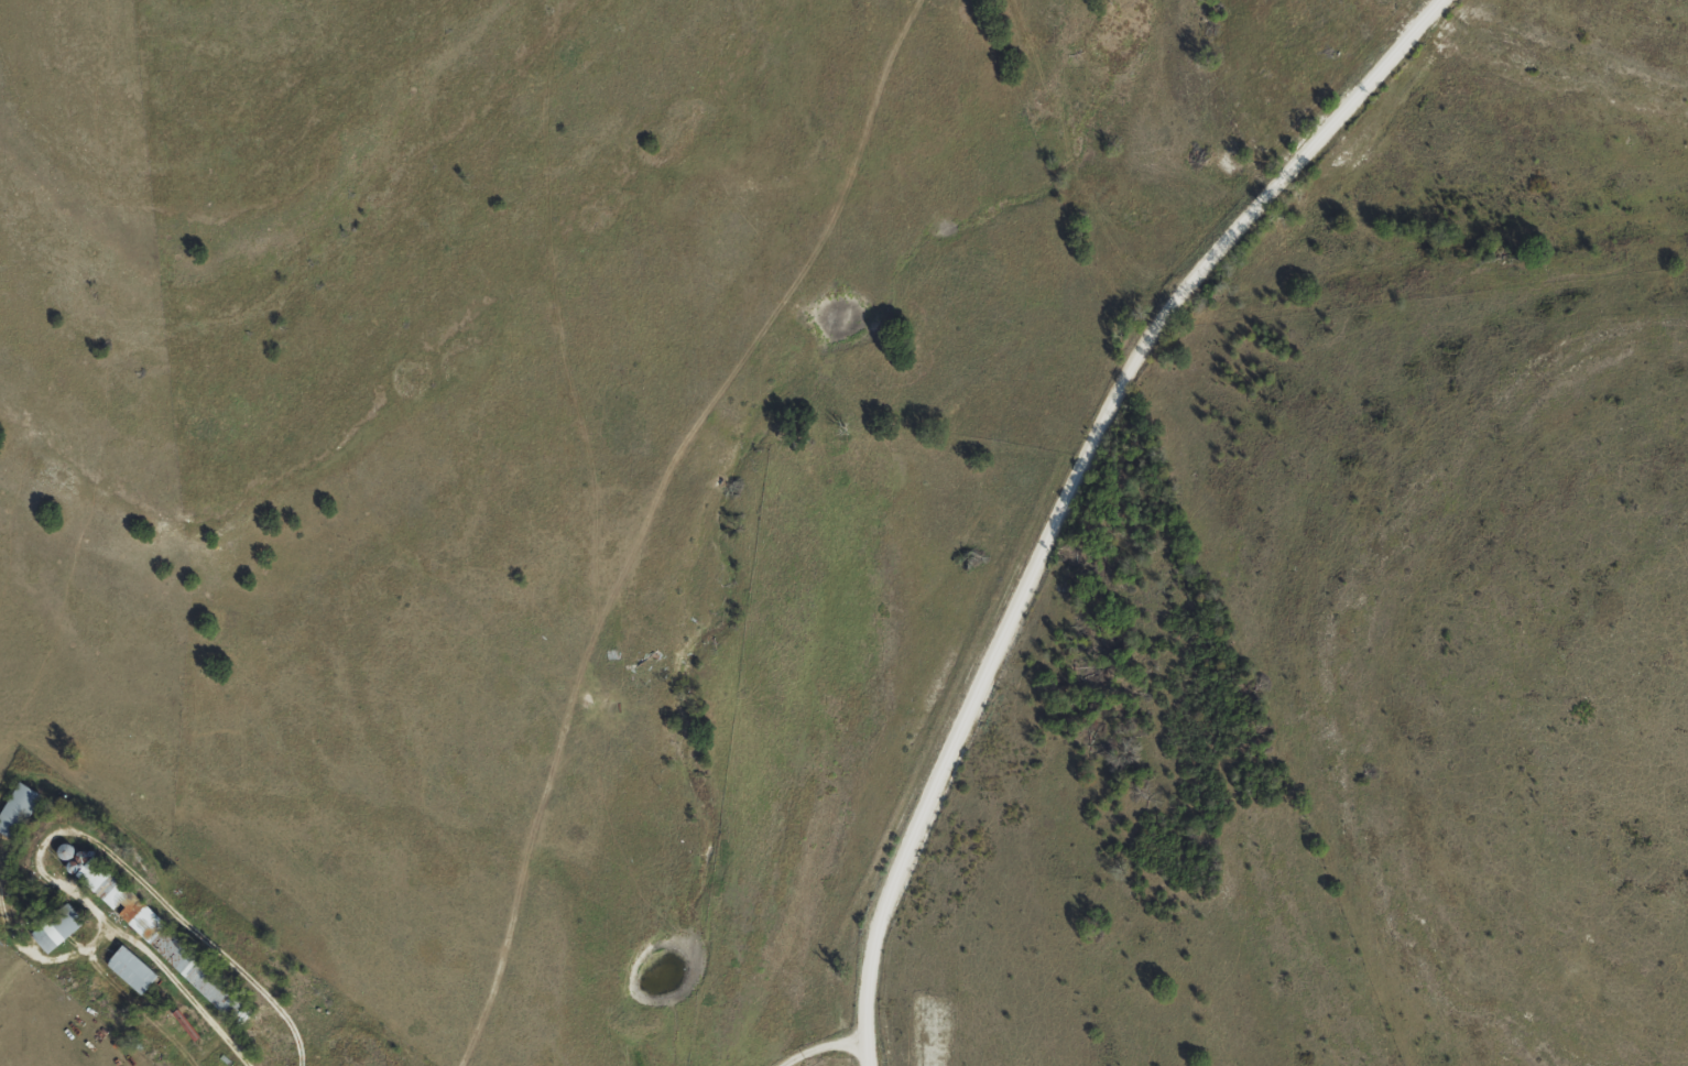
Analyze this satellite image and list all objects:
road: (1061, 489)
building: (15, 811)
building: (59, 851)
building: (84, 871)
building: (53, 928)
building: (170, 950)
building: (127, 970)
road: (190, 971)
road: (823, 1052)

